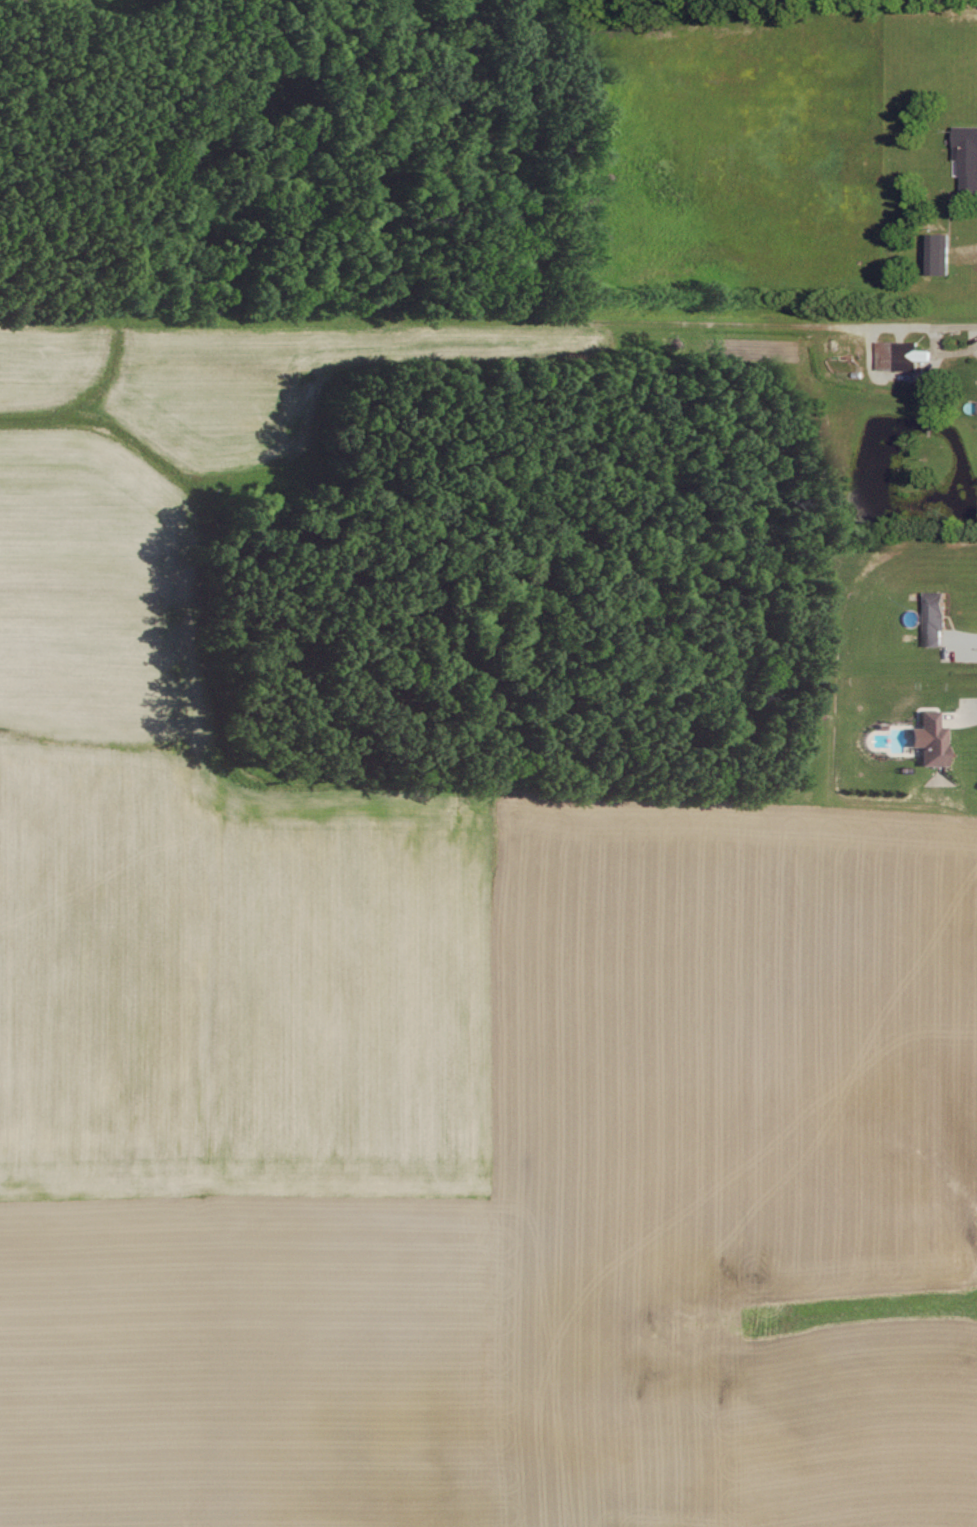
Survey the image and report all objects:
building: (967, 156)
building: (939, 254)
road: (955, 326)
road: (958, 352)
building: (899, 355)
road: (874, 371)
building: (936, 617)
road: (965, 641)
road: (967, 722)
building: (932, 739)

